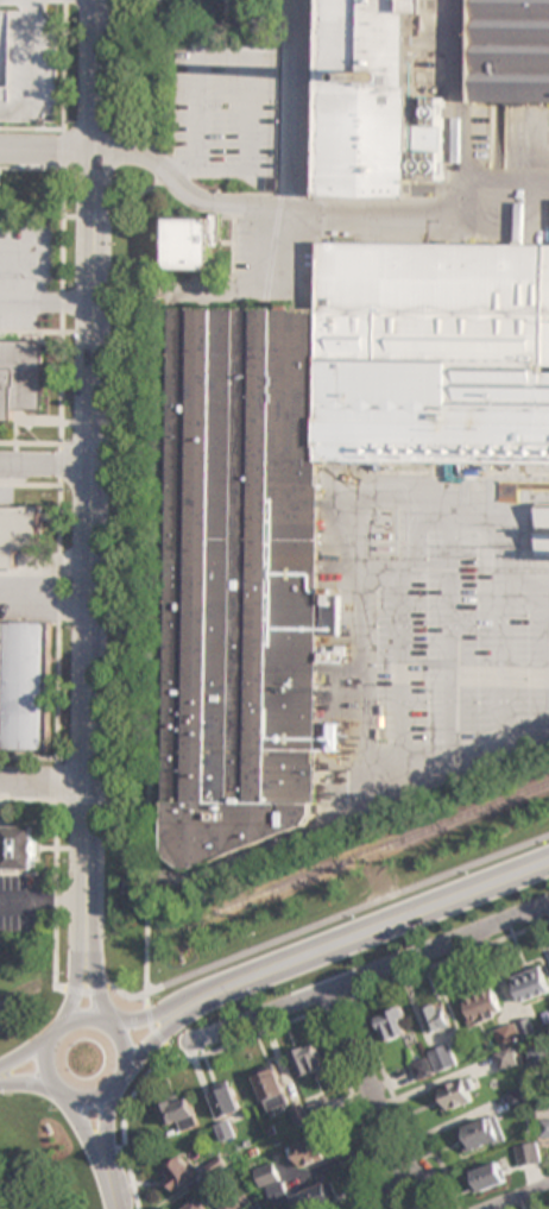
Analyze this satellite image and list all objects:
building: (510, 50)
parking lot: (27, 62)
road: (97, 75)
building: (367, 96)
parking lot: (227, 111)
road: (454, 146)
road: (297, 147)
road: (48, 149)
road: (269, 209)
road: (115, 213)
building: (193, 241)
road: (48, 301)
building: (21, 377)
road: (106, 443)
road: (46, 464)
building: (316, 491)
road: (59, 493)
road: (437, 522)
building: (543, 529)
building: (19, 534)
road: (91, 537)
railway: (542, 569)
road: (526, 603)
road: (151, 612)
parking lot: (461, 636)
road: (453, 646)
building: (21, 686)
road: (456, 768)
road: (44, 780)
road: (102, 799)
building: (334, 810)
building: (18, 848)
railway: (378, 848)
road: (379, 921)
road: (303, 926)
road: (93, 974)
road: (371, 975)
road: (76, 976)
building: (531, 984)
railway: (18, 990)
building: (482, 1006)
road: (162, 1008)
building: (438, 1018)
building: (395, 1024)
road: (164, 1027)
road: (25, 1051)
building: (538, 1057)
building: (309, 1059)
building: (506, 1059)
building: (434, 1063)
road: (45, 1069)
road: (368, 1076)
road: (27, 1082)
building: (273, 1089)
building: (456, 1094)
building: (226, 1098)
building: (182, 1112)
building: (545, 1128)
building: (480, 1134)
road: (94, 1151)
road: (109, 1151)
building: (309, 1151)
building: (528, 1154)
building: (178, 1172)
road: (425, 1178)
building: (487, 1178)
road: (392, 1185)
road: (519, 1196)
building: (317, 1197)
building: (197, 1204)
building: (234, 1205)

